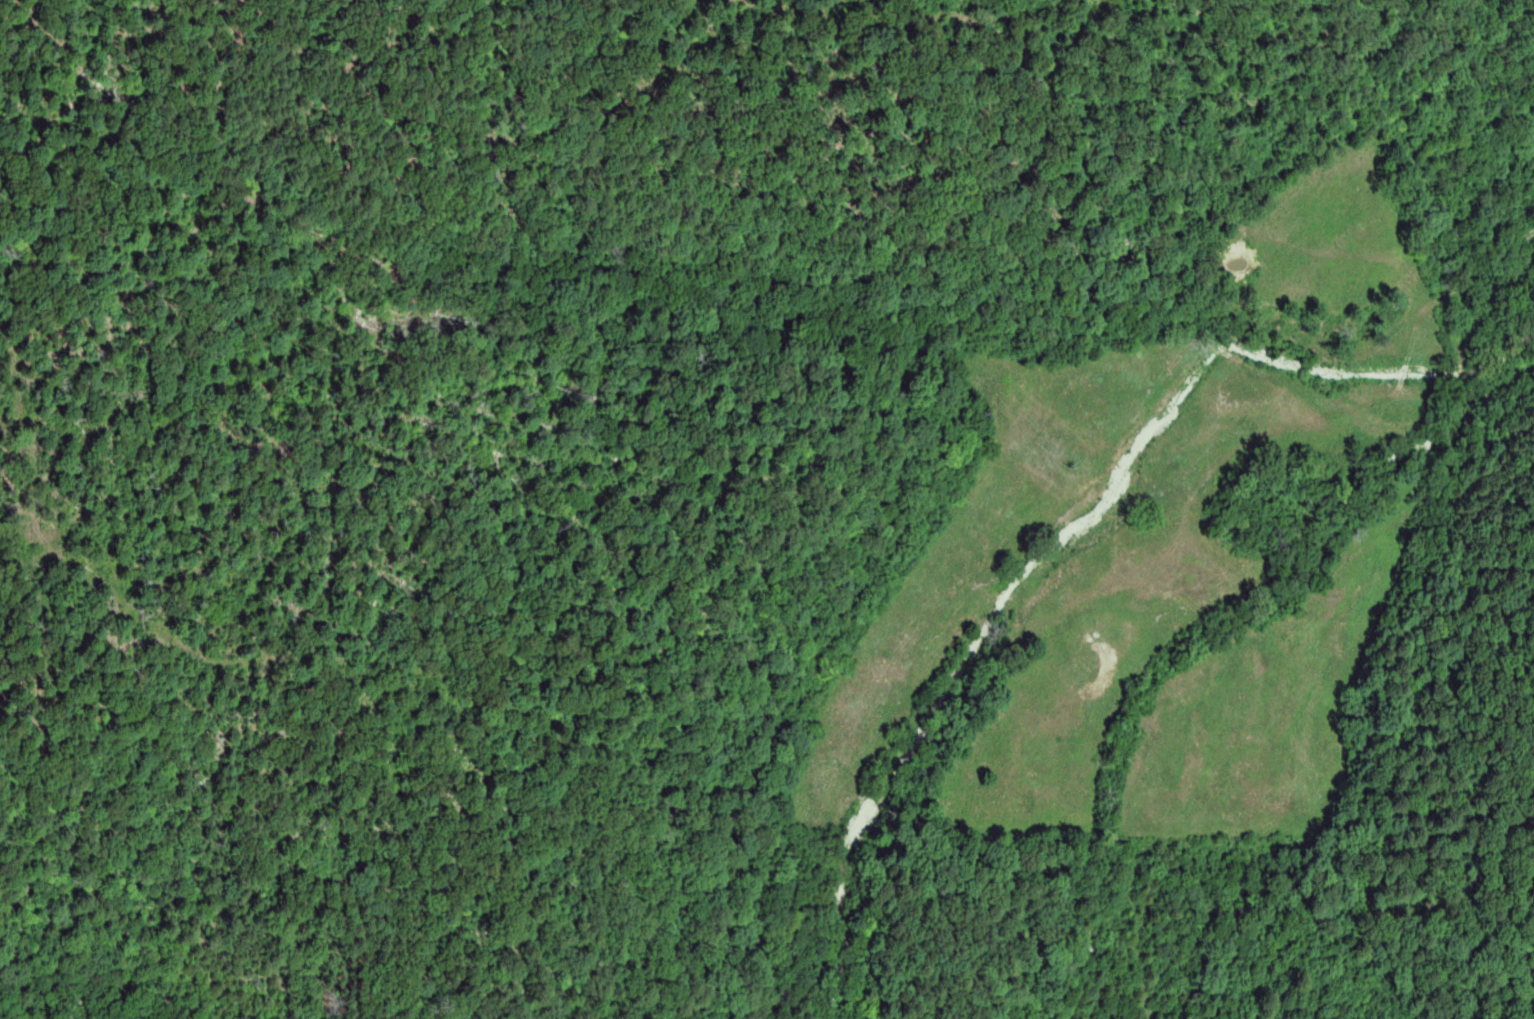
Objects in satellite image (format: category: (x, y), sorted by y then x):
road: (1510, 861)

